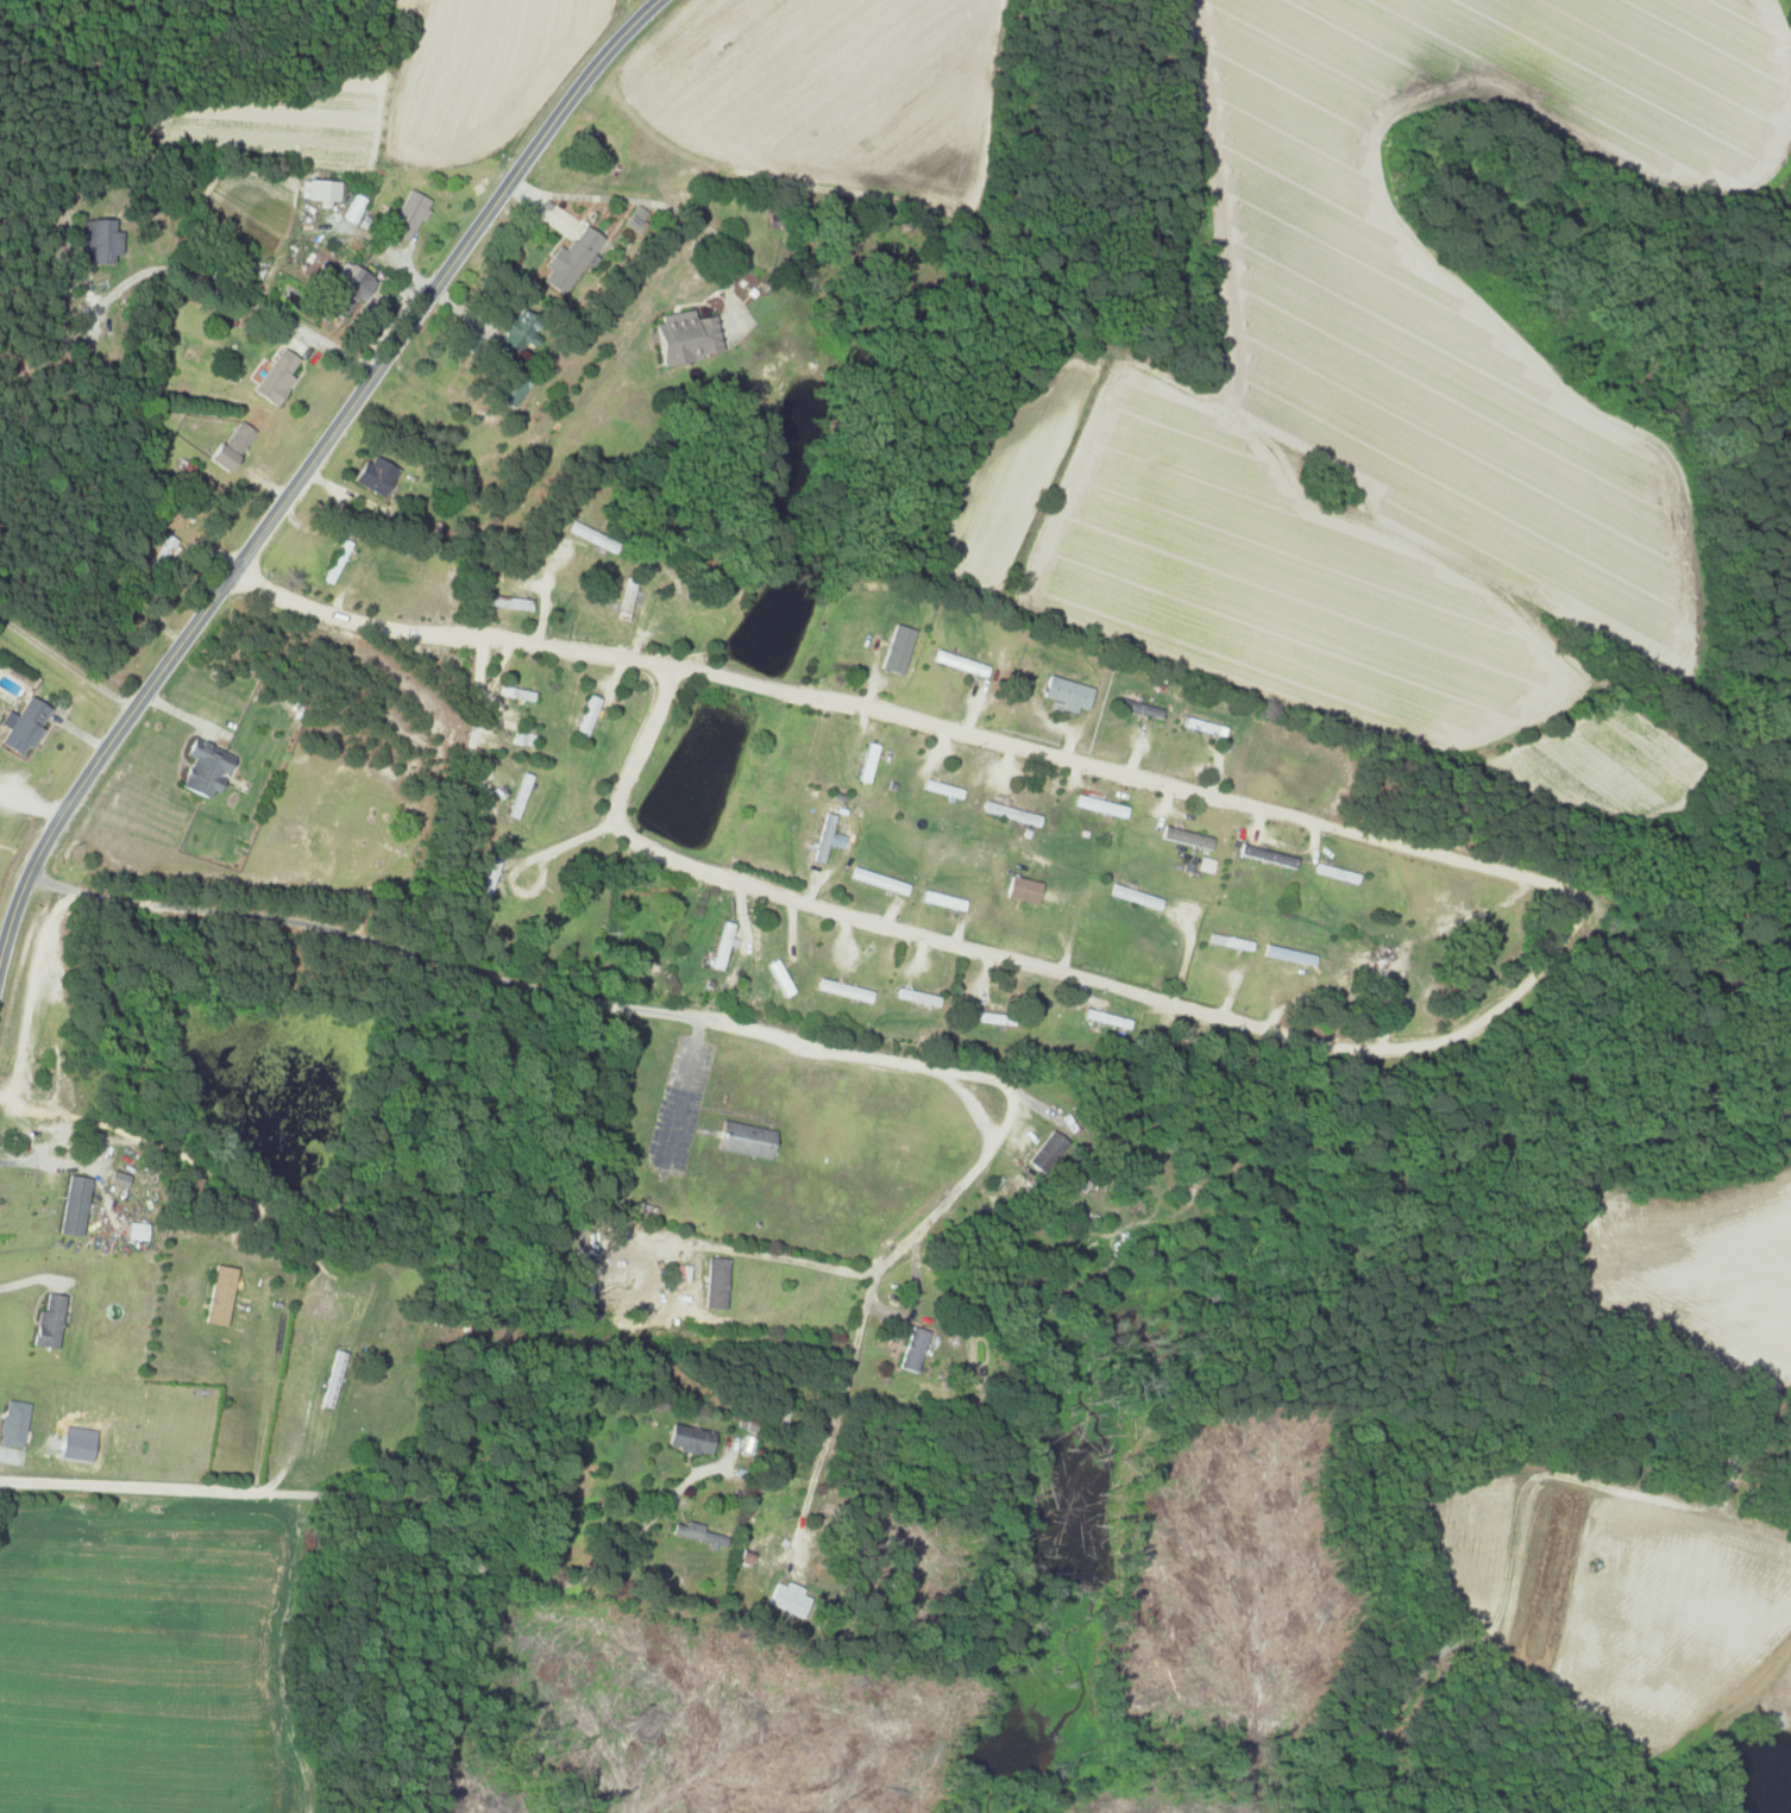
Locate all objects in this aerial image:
building: (320, 192)
road: (655, 203)
building: (407, 215)
road: (381, 249)
building: (568, 259)
building: (345, 290)
road: (238, 295)
building: (510, 337)
building: (681, 338)
building: (272, 377)
building: (513, 393)
building: (227, 446)
road: (304, 466)
building: (375, 475)
building: (586, 533)
building: (626, 598)
building: (505, 601)
building: (895, 647)
road: (67, 661)
building: (1066, 691)
building: (1143, 709)
building: (587, 715)
building: (20, 724)
building: (522, 738)
building: (201, 769)
building: (1099, 804)
road: (26, 814)
building: (1186, 836)
building: (824, 838)
road: (1395, 847)
building: (1267, 854)
road: (523, 862)
building: (1022, 889)
building: (721, 943)
building: (1283, 953)
building: (1359, 968)
building: (991, 1017)
road: (741, 1030)
building: (743, 1138)
building: (1045, 1150)
building: (117, 1178)
road: (230, 1193)
building: (73, 1204)
building: (134, 1231)
road: (779, 1256)
building: (680, 1272)
road: (34, 1278)
building: (714, 1282)
building: (216, 1294)
building: (45, 1322)
building: (912, 1348)
building: (11, 1422)
building: (687, 1438)
road: (189, 1488)
building: (695, 1532)
road: (491, 1570)
building: (788, 1596)

